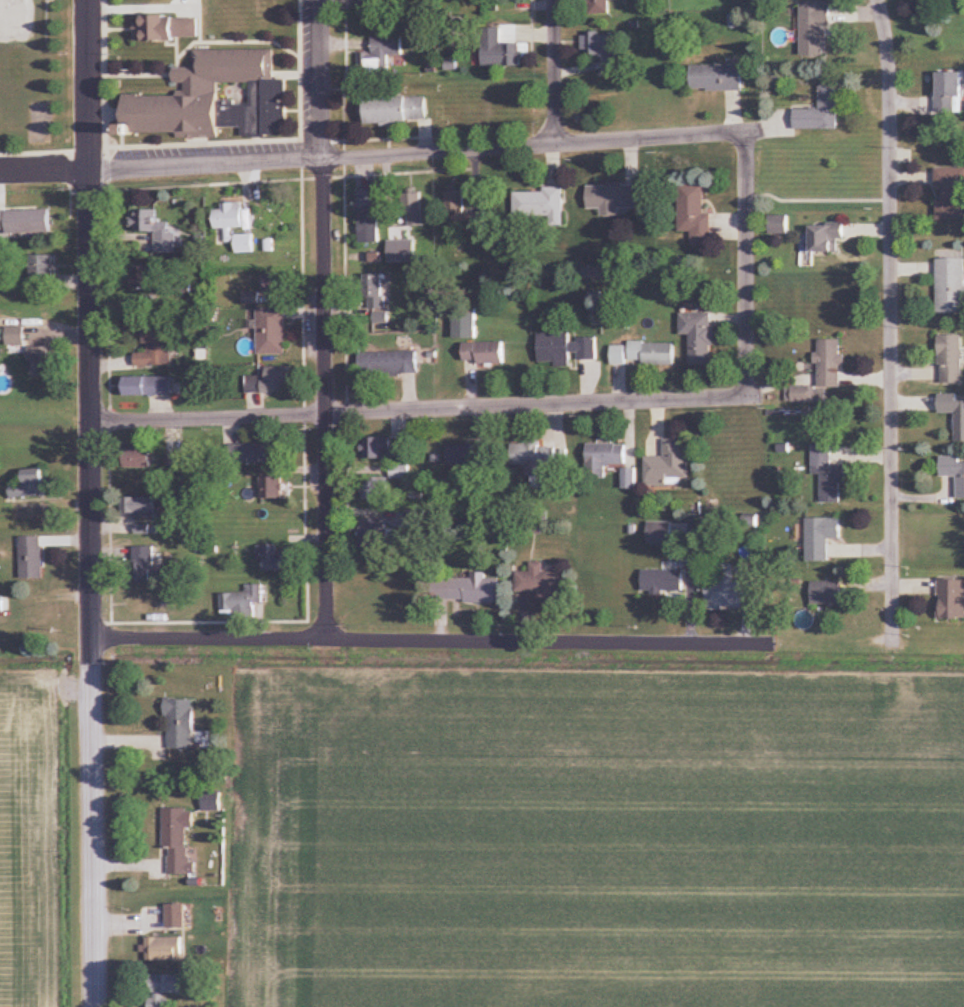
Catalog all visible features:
building: (371, 5)
building: (599, 8)
building: (168, 28)
building: (815, 29)
building: (599, 46)
building: (501, 51)
building: (382, 53)
road: (555, 71)
building: (717, 78)
building: (950, 93)
building: (216, 99)
building: (397, 111)
building: (822, 112)
road: (417, 151)
road: (45, 168)
building: (950, 194)
building: (615, 197)
building: (370, 206)
building: (540, 207)
building: (415, 210)
building: (463, 212)
building: (695, 215)
building: (39, 219)
building: (5, 221)
building: (780, 225)
building: (235, 226)
building: (155, 229)
building: (828, 238)
road: (746, 265)
building: (43, 267)
building: (146, 277)
building: (276, 284)
building: (951, 286)
building: (372, 292)
road: (91, 318)
road: (324, 320)
road: (892, 321)
building: (272, 332)
building: (16, 337)
building: (699, 337)
building: (157, 346)
building: (566, 350)
building: (484, 354)
building: (653, 354)
building: (620, 356)
building: (952, 360)
building: (44, 362)
building: (389, 365)
building: (824, 374)
building: (271, 382)
building: (147, 387)
road: (418, 410)
building: (954, 412)
building: (385, 449)
building: (270, 452)
building: (462, 456)
building: (139, 458)
building: (534, 459)
building: (605, 459)
building: (670, 465)
building: (954, 472)
building: (401, 473)
building: (829, 475)
building: (629, 480)
building: (32, 485)
building: (273, 489)
building: (375, 490)
building: (140, 509)
building: (660, 533)
building: (371, 535)
building: (822, 538)
building: (32, 558)
building: (273, 558)
building: (145, 565)
building: (663, 581)
building: (542, 584)
building: (728, 588)
building: (468, 590)
building: (828, 594)
building: (952, 599)
building: (243, 602)
building: (1, 605)
road: (434, 641)
building: (181, 724)
road: (93, 764)
building: (213, 803)
building: (179, 839)
building: (177, 917)
road: (95, 949)
building: (165, 950)
building: (165, 990)

